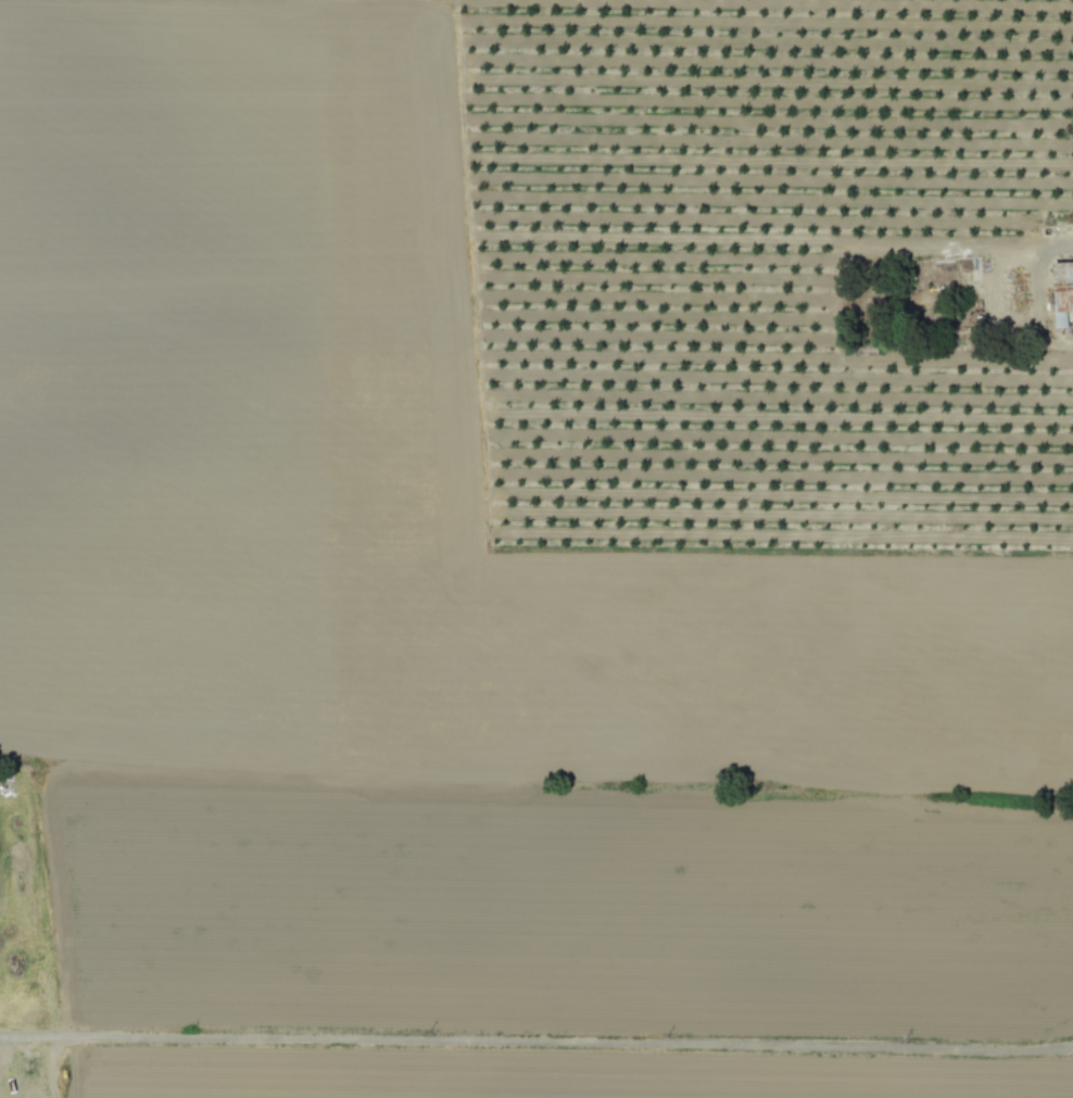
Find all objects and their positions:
crop: (744, 265)
building: (1062, 293)
crop: (390, 465)
crop: (555, 931)
road: (536, 1042)

